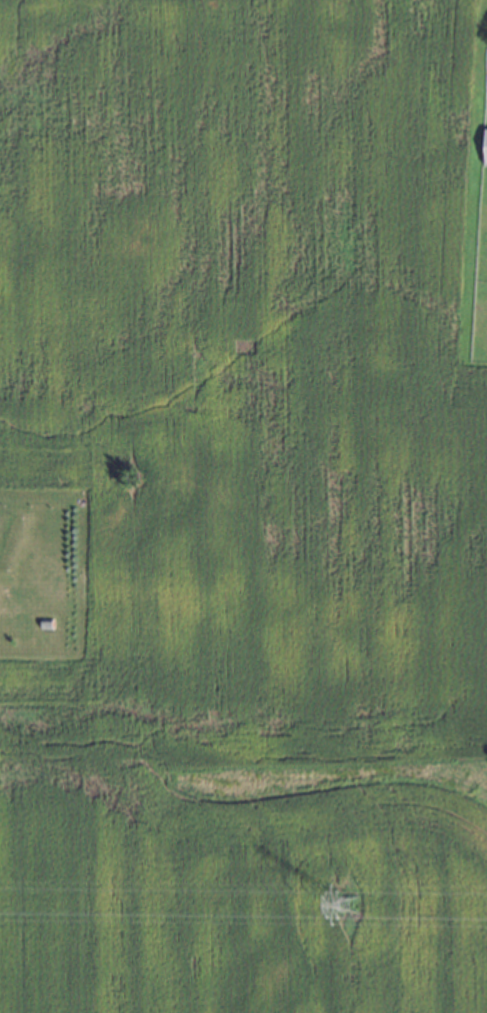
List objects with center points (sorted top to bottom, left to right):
building: (486, 148)
crop: (246, 508)
power tower: (349, 906)

